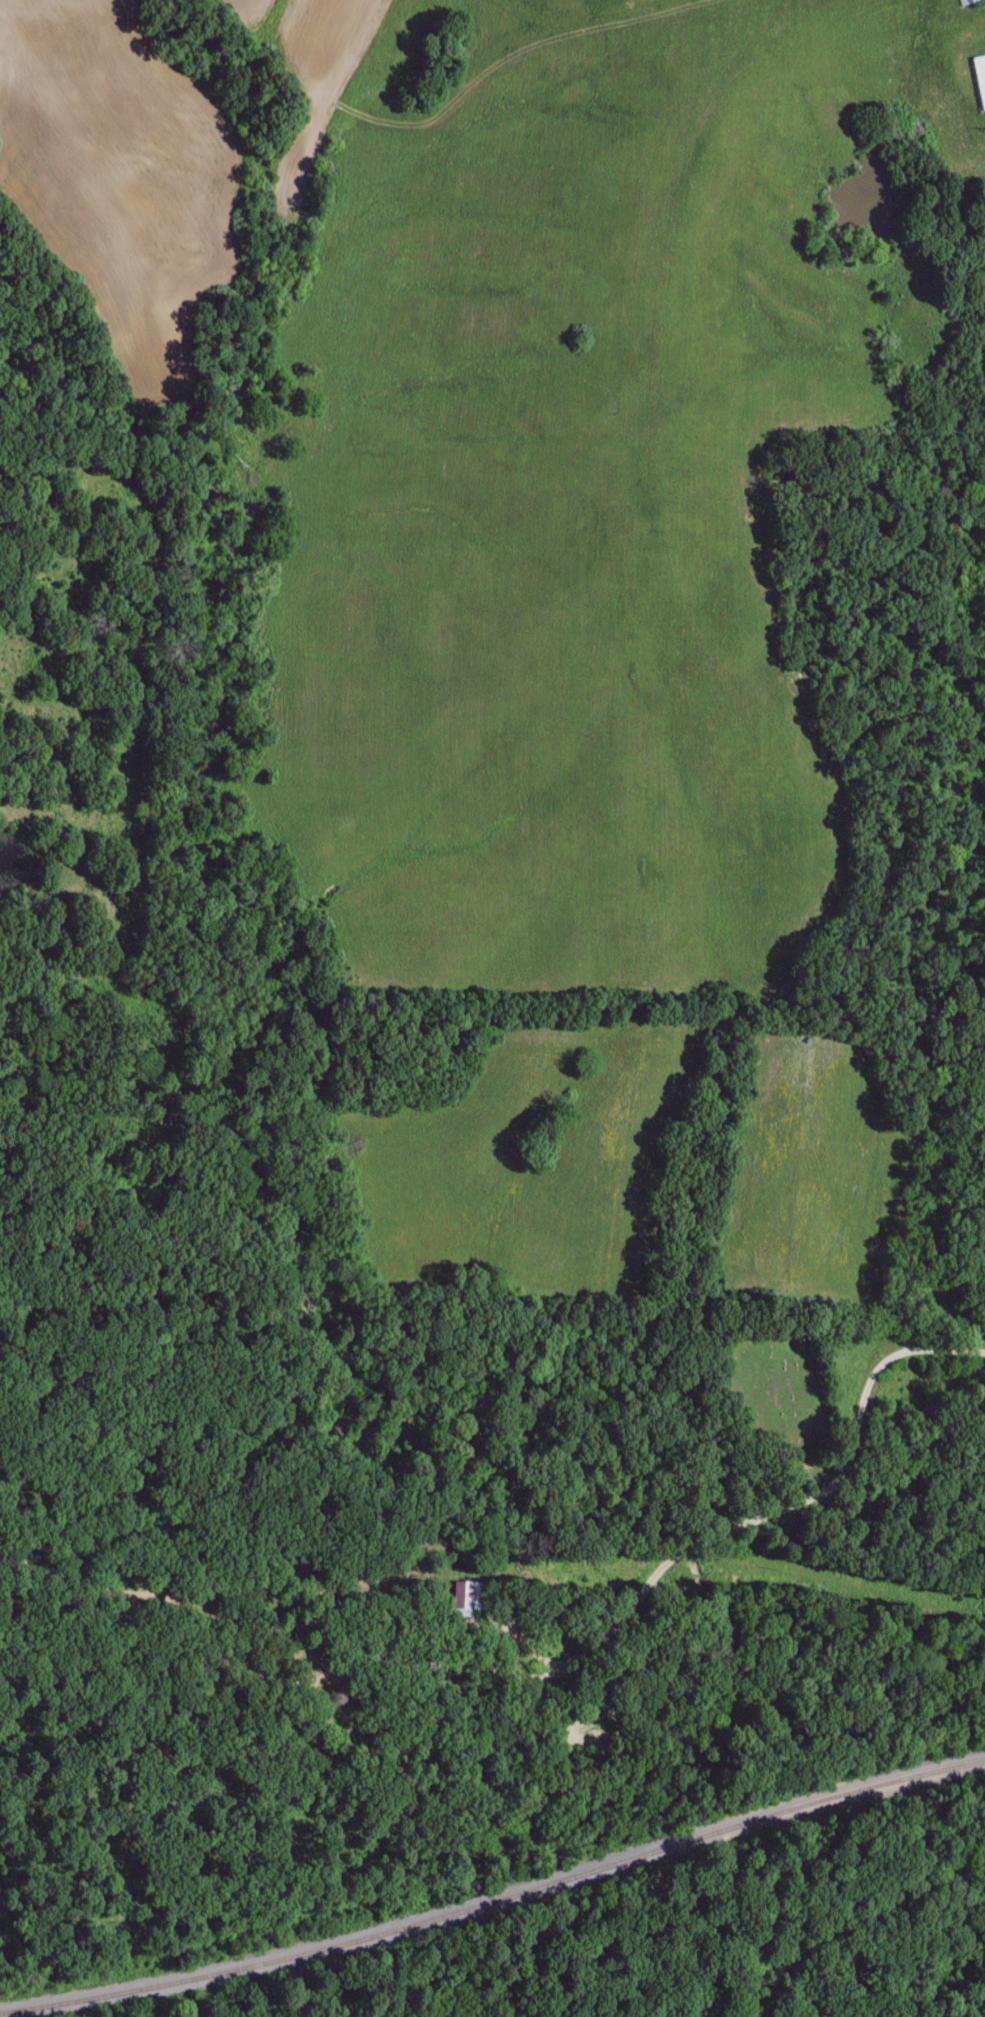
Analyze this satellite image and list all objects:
building: (982, 74)
park: (783, 1407)
road: (859, 1435)
building: (467, 1596)
railway: (495, 1901)

